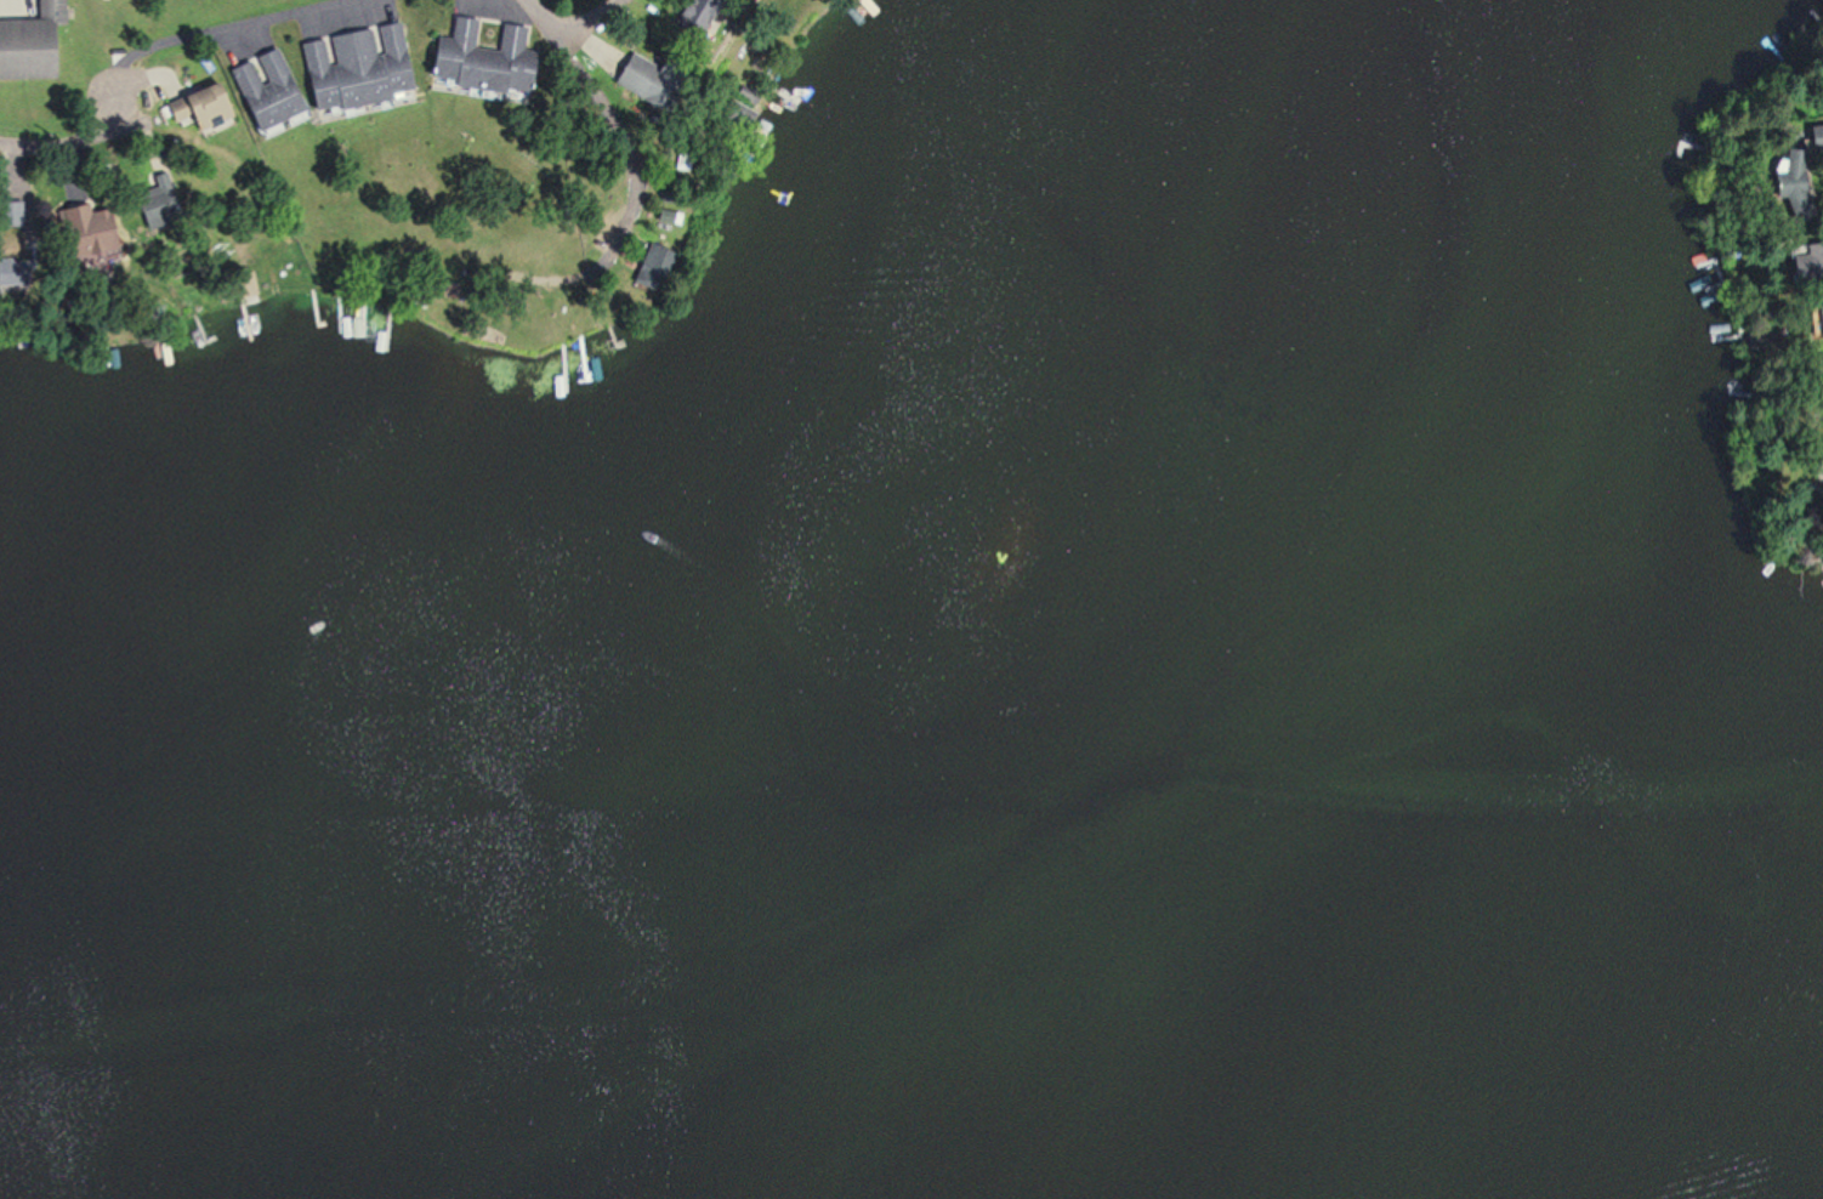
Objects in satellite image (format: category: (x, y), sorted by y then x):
road: (535, 5)
building: (693, 16)
road: (577, 21)
building: (24, 39)
road: (164, 45)
building: (475, 56)
building: (350, 66)
building: (261, 87)
building: (192, 112)
road: (617, 127)
building: (1798, 198)
building: (78, 229)
building: (1806, 262)
building: (245, 284)
building: (1819, 320)
building: (1822, 368)

